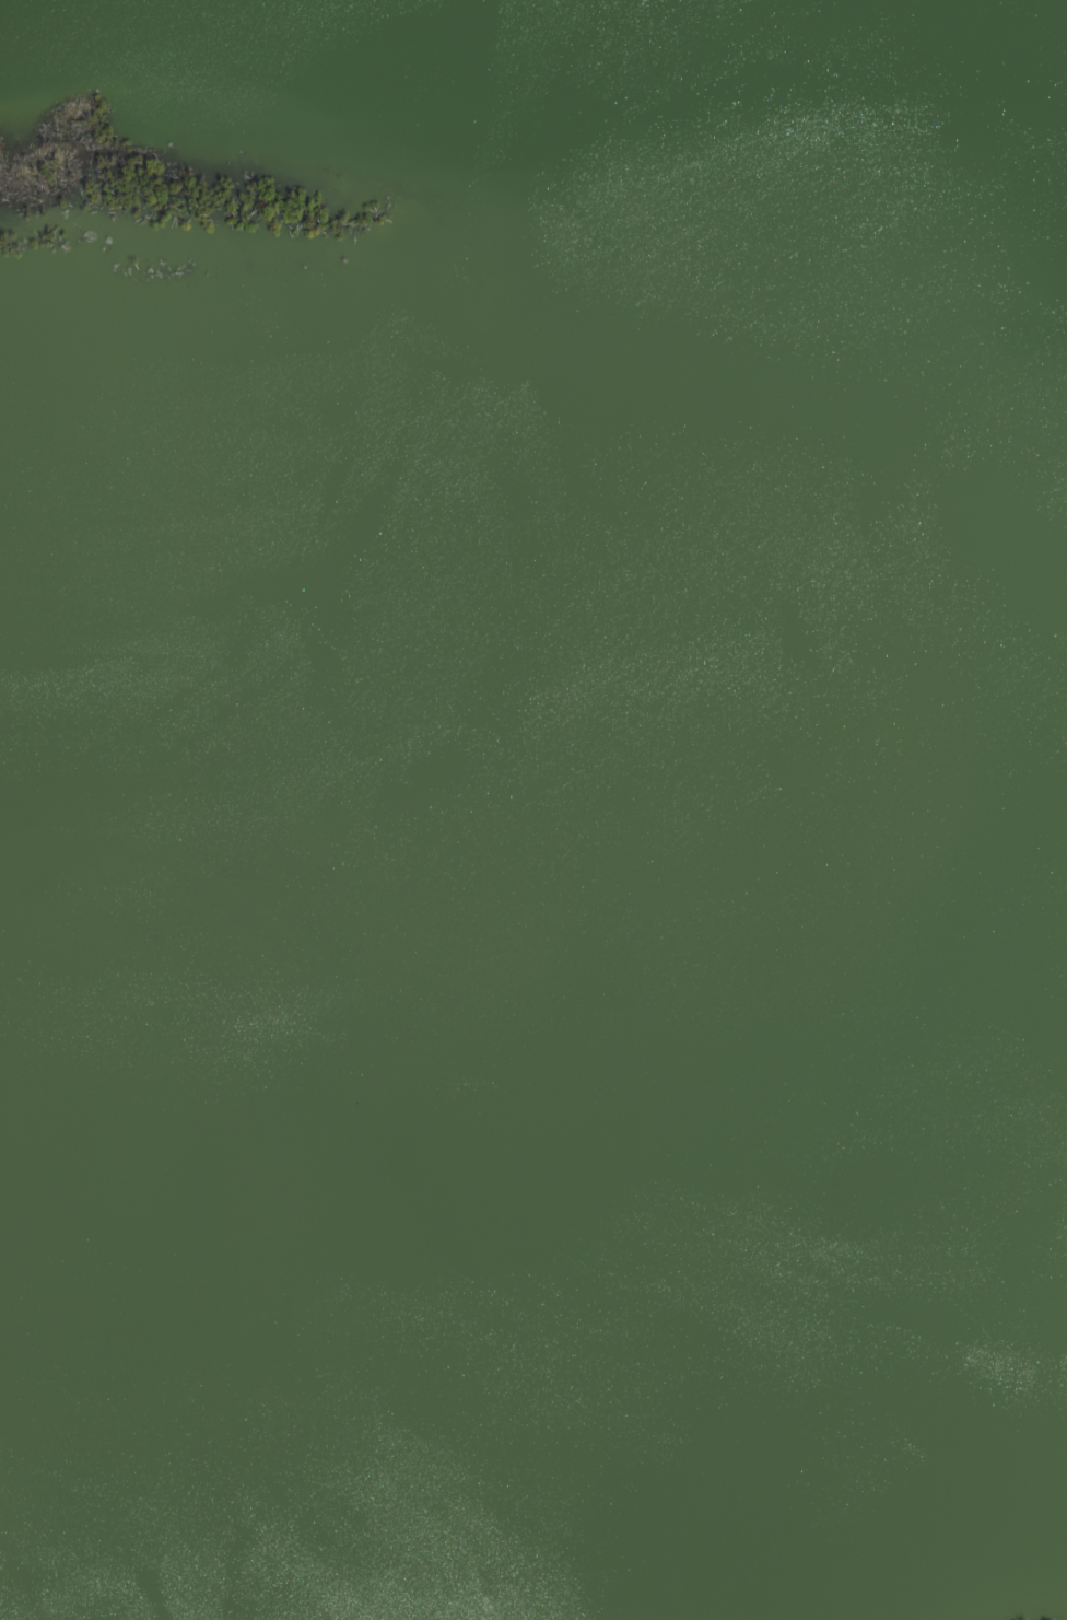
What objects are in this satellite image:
river: (442, 917)

